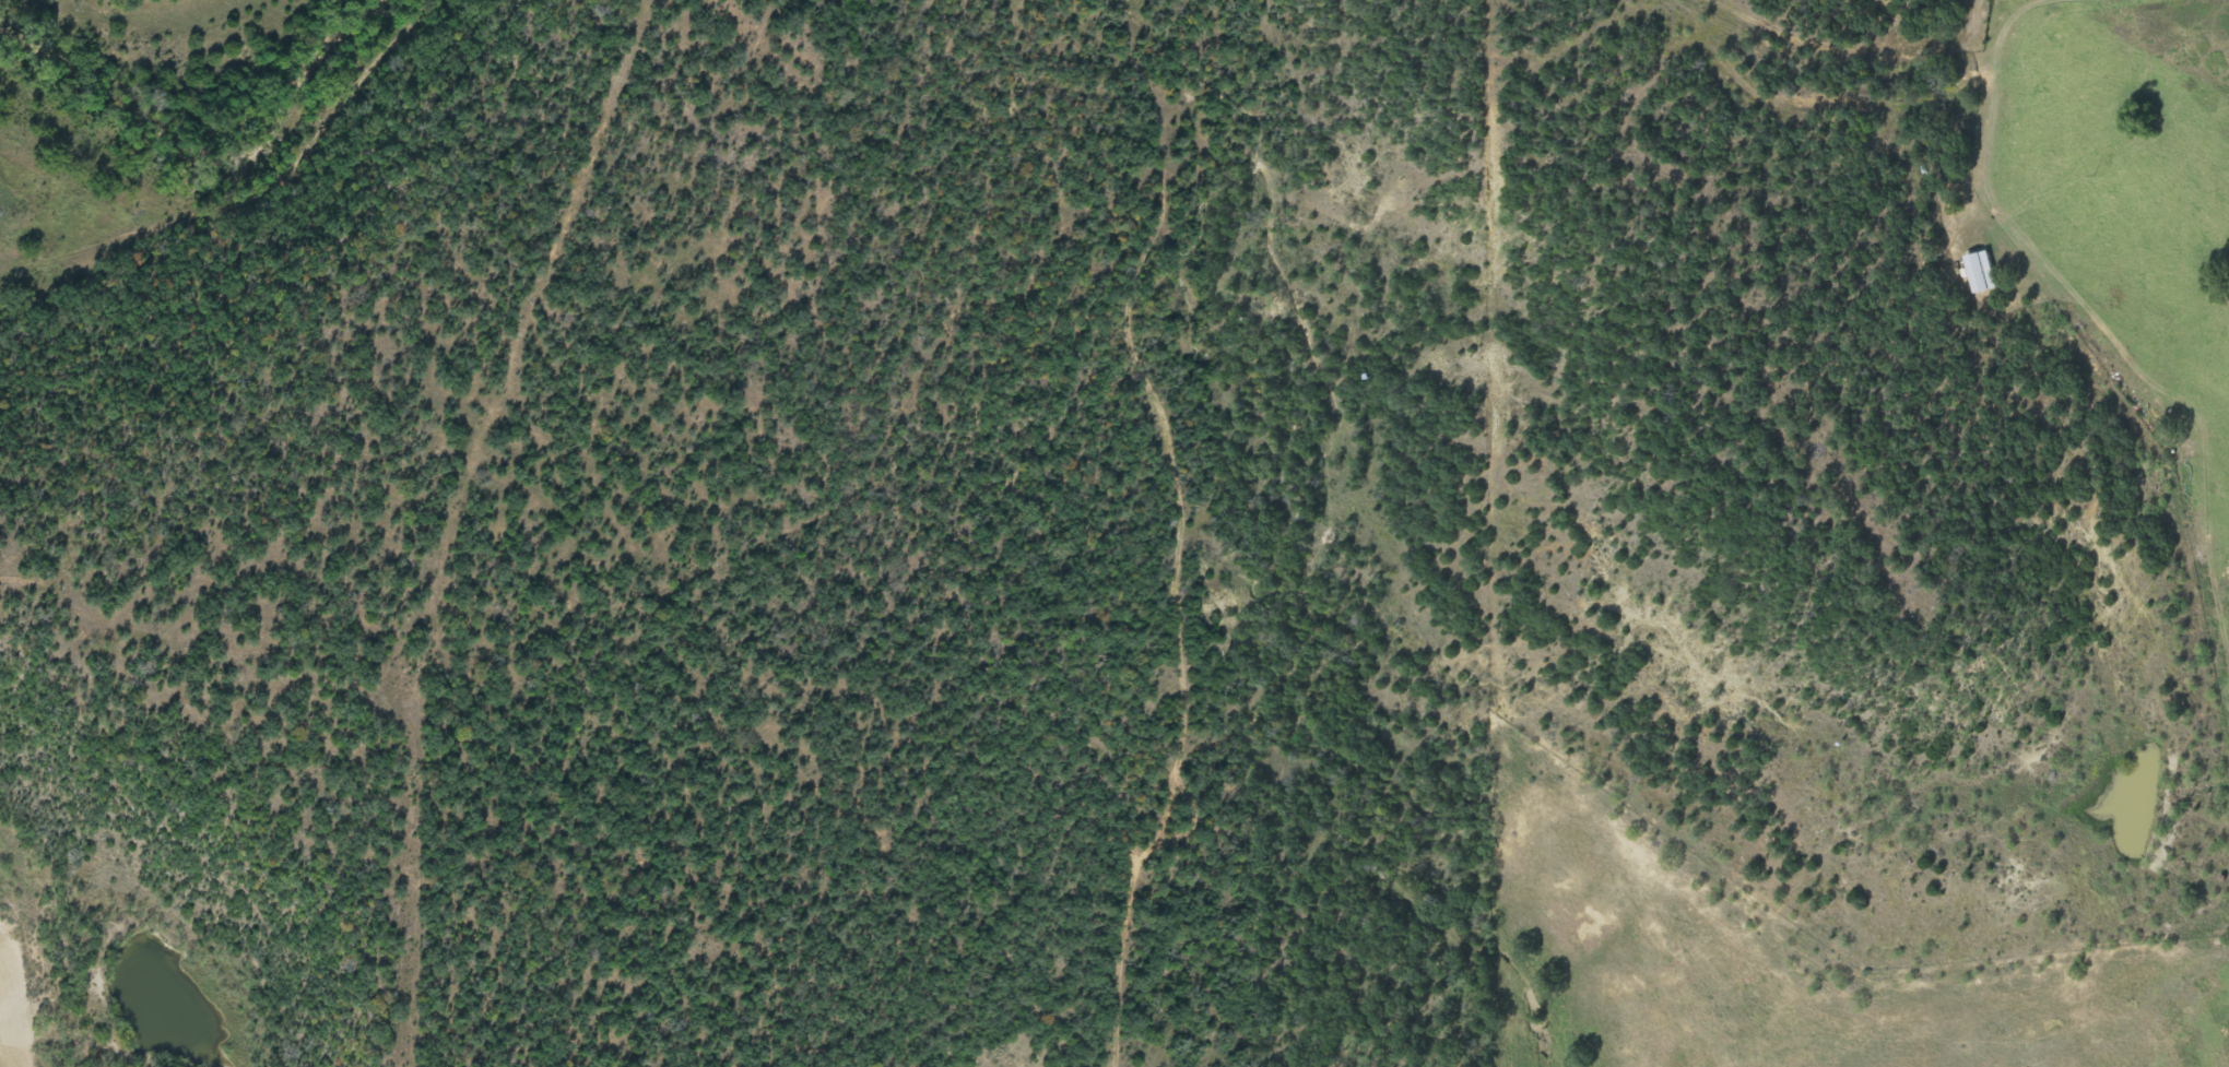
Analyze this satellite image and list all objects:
building: (1982, 272)

